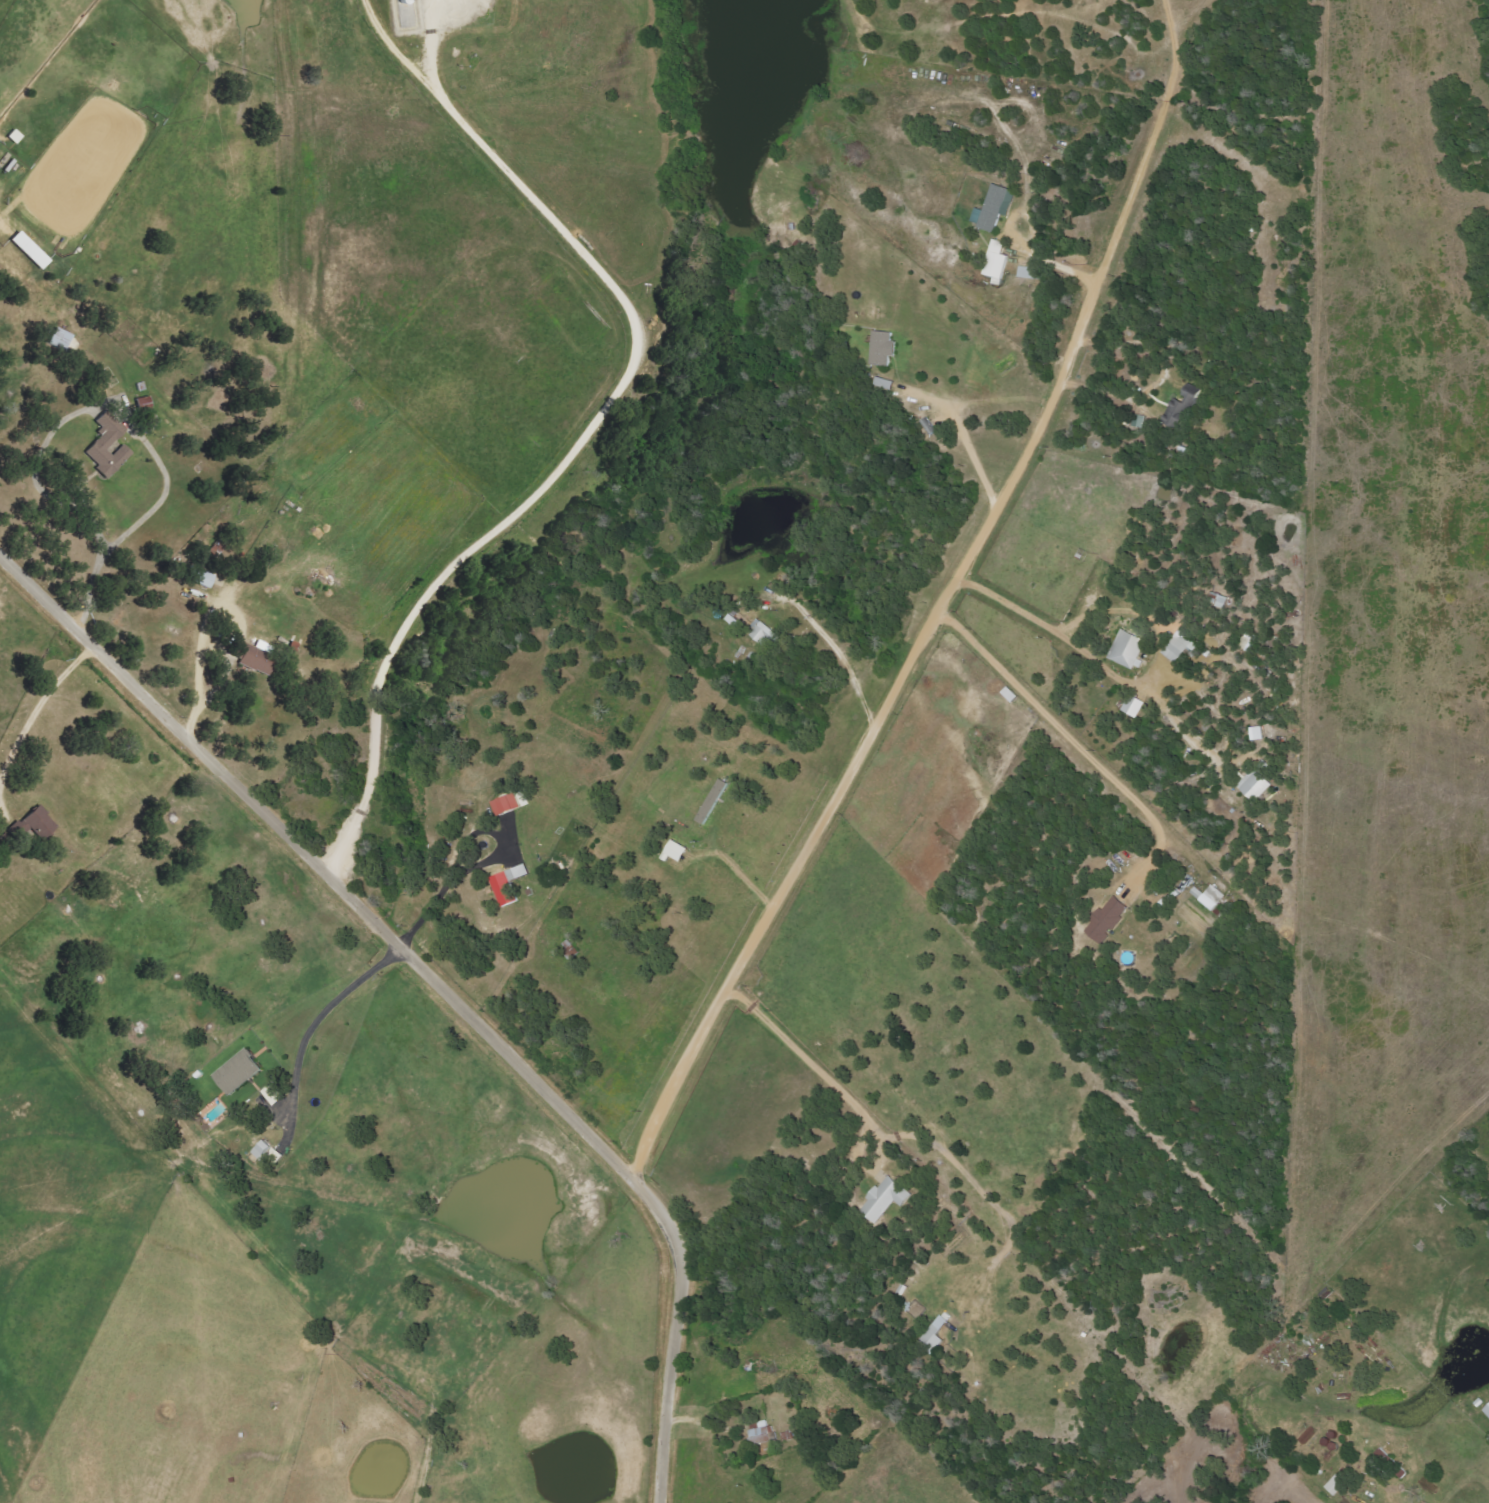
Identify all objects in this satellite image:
building: (996, 208)
building: (998, 261)
building: (1032, 273)
building: (883, 349)
road: (628, 372)
building: (1183, 407)
building: (109, 446)
road: (137, 521)
building: (205, 579)
road: (939, 603)
road: (1039, 624)
building: (764, 634)
building: (1180, 648)
building: (1128, 650)
building: (255, 656)
road: (839, 661)
road: (200, 684)
building: (1135, 707)
building: (1258, 734)
road: (1075, 741)
building: (1256, 786)
building: (713, 802)
building: (507, 806)
road: (355, 818)
building: (37, 824)
building: (679, 852)
road: (477, 863)
building: (506, 890)
building: (1210, 898)
building: (1108, 920)
road: (437, 985)
road: (316, 1018)
road: (816, 1066)
building: (240, 1073)
building: (275, 1095)
building: (267, 1153)
building: (886, 1199)
building: (935, 1337)
building: (1487, 1411)
building: (762, 1435)
building: (1337, 1486)

